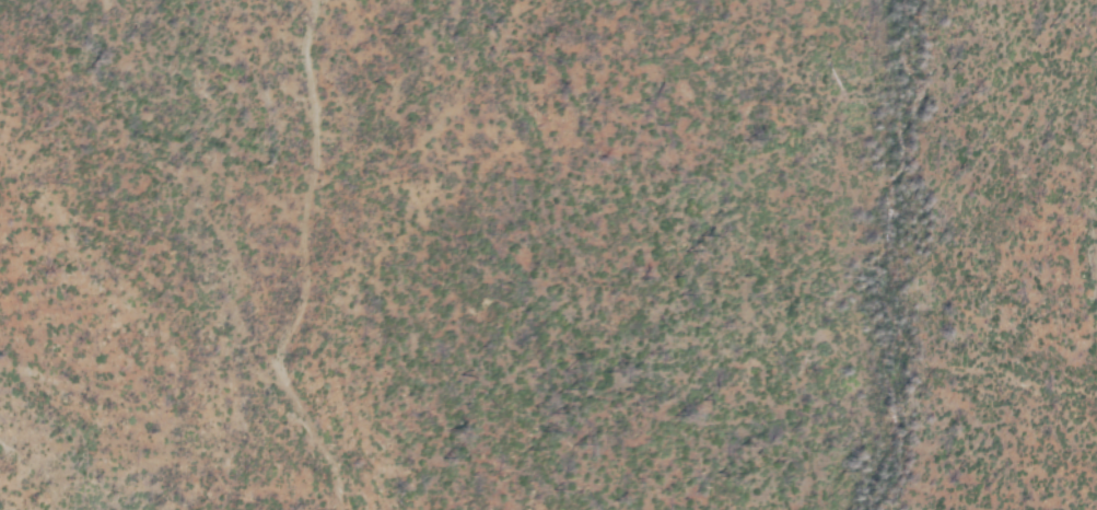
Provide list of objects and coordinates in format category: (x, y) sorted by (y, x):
road: (301, 265)

